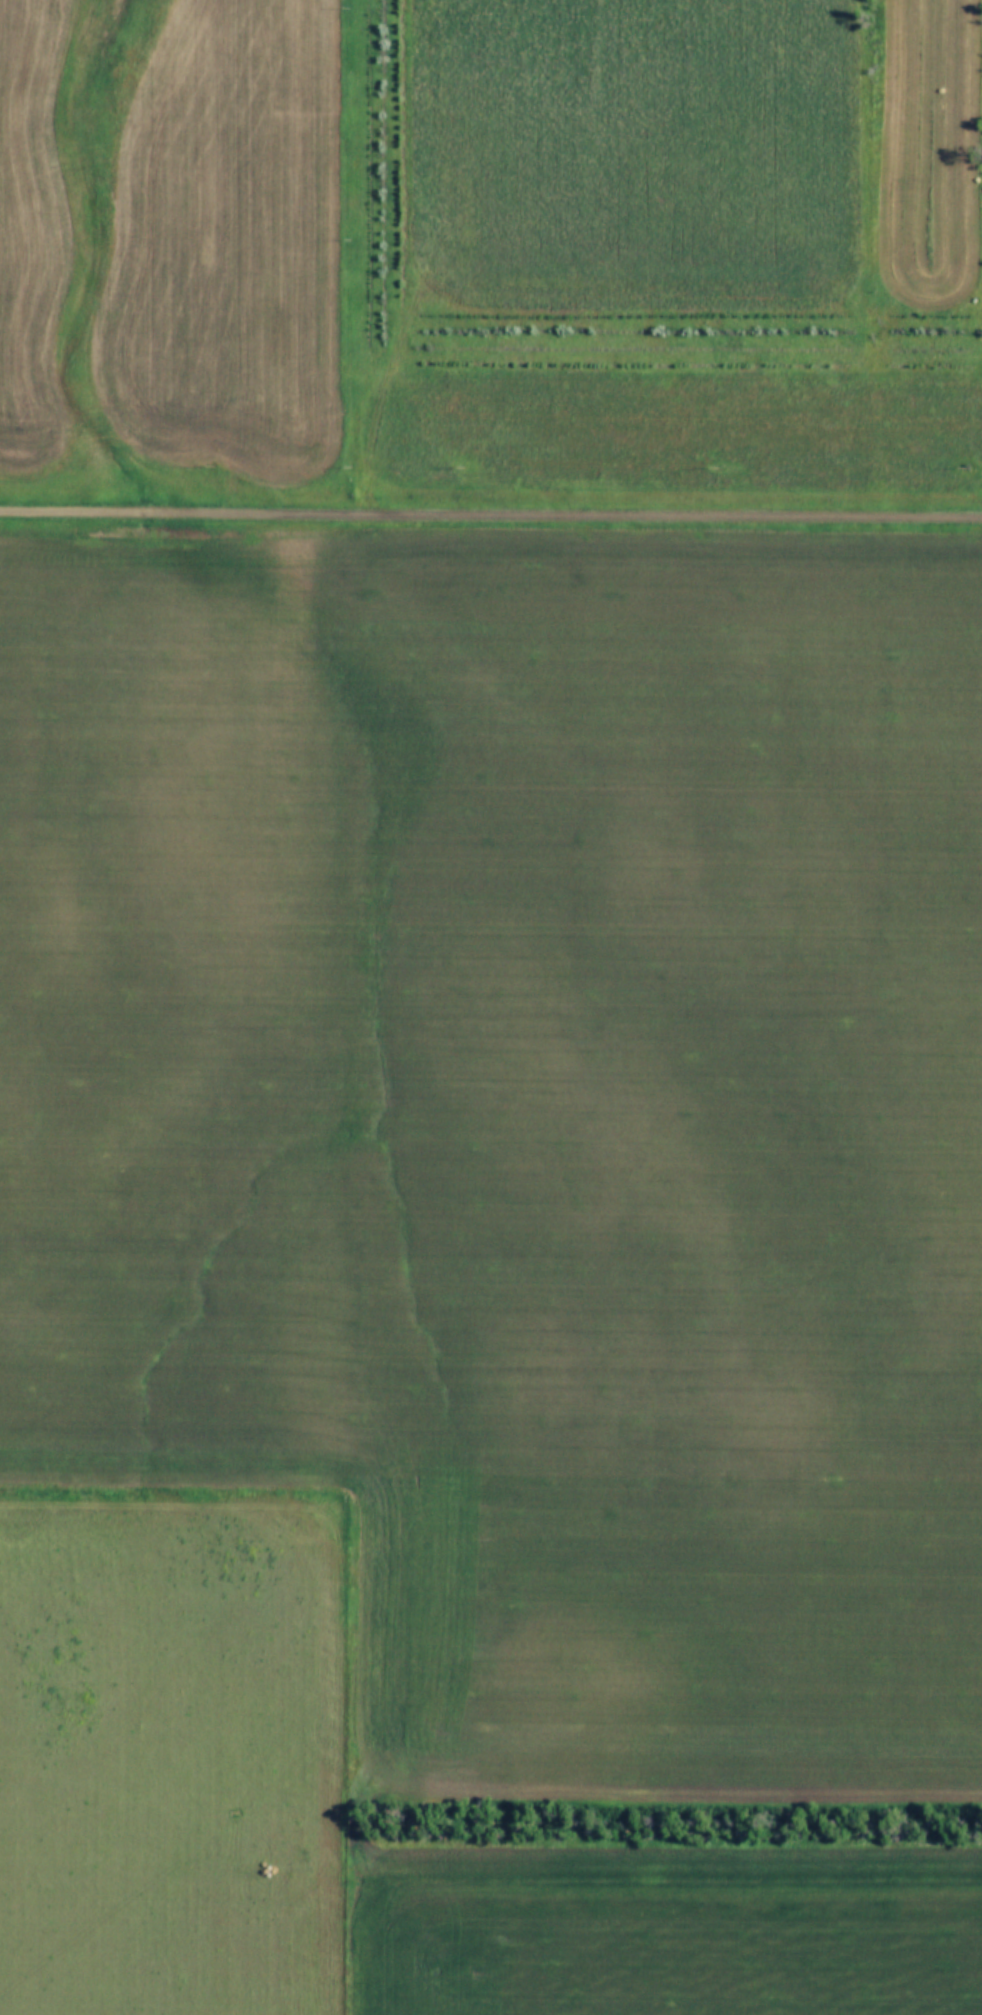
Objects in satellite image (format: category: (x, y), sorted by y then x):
road: (490, 519)

